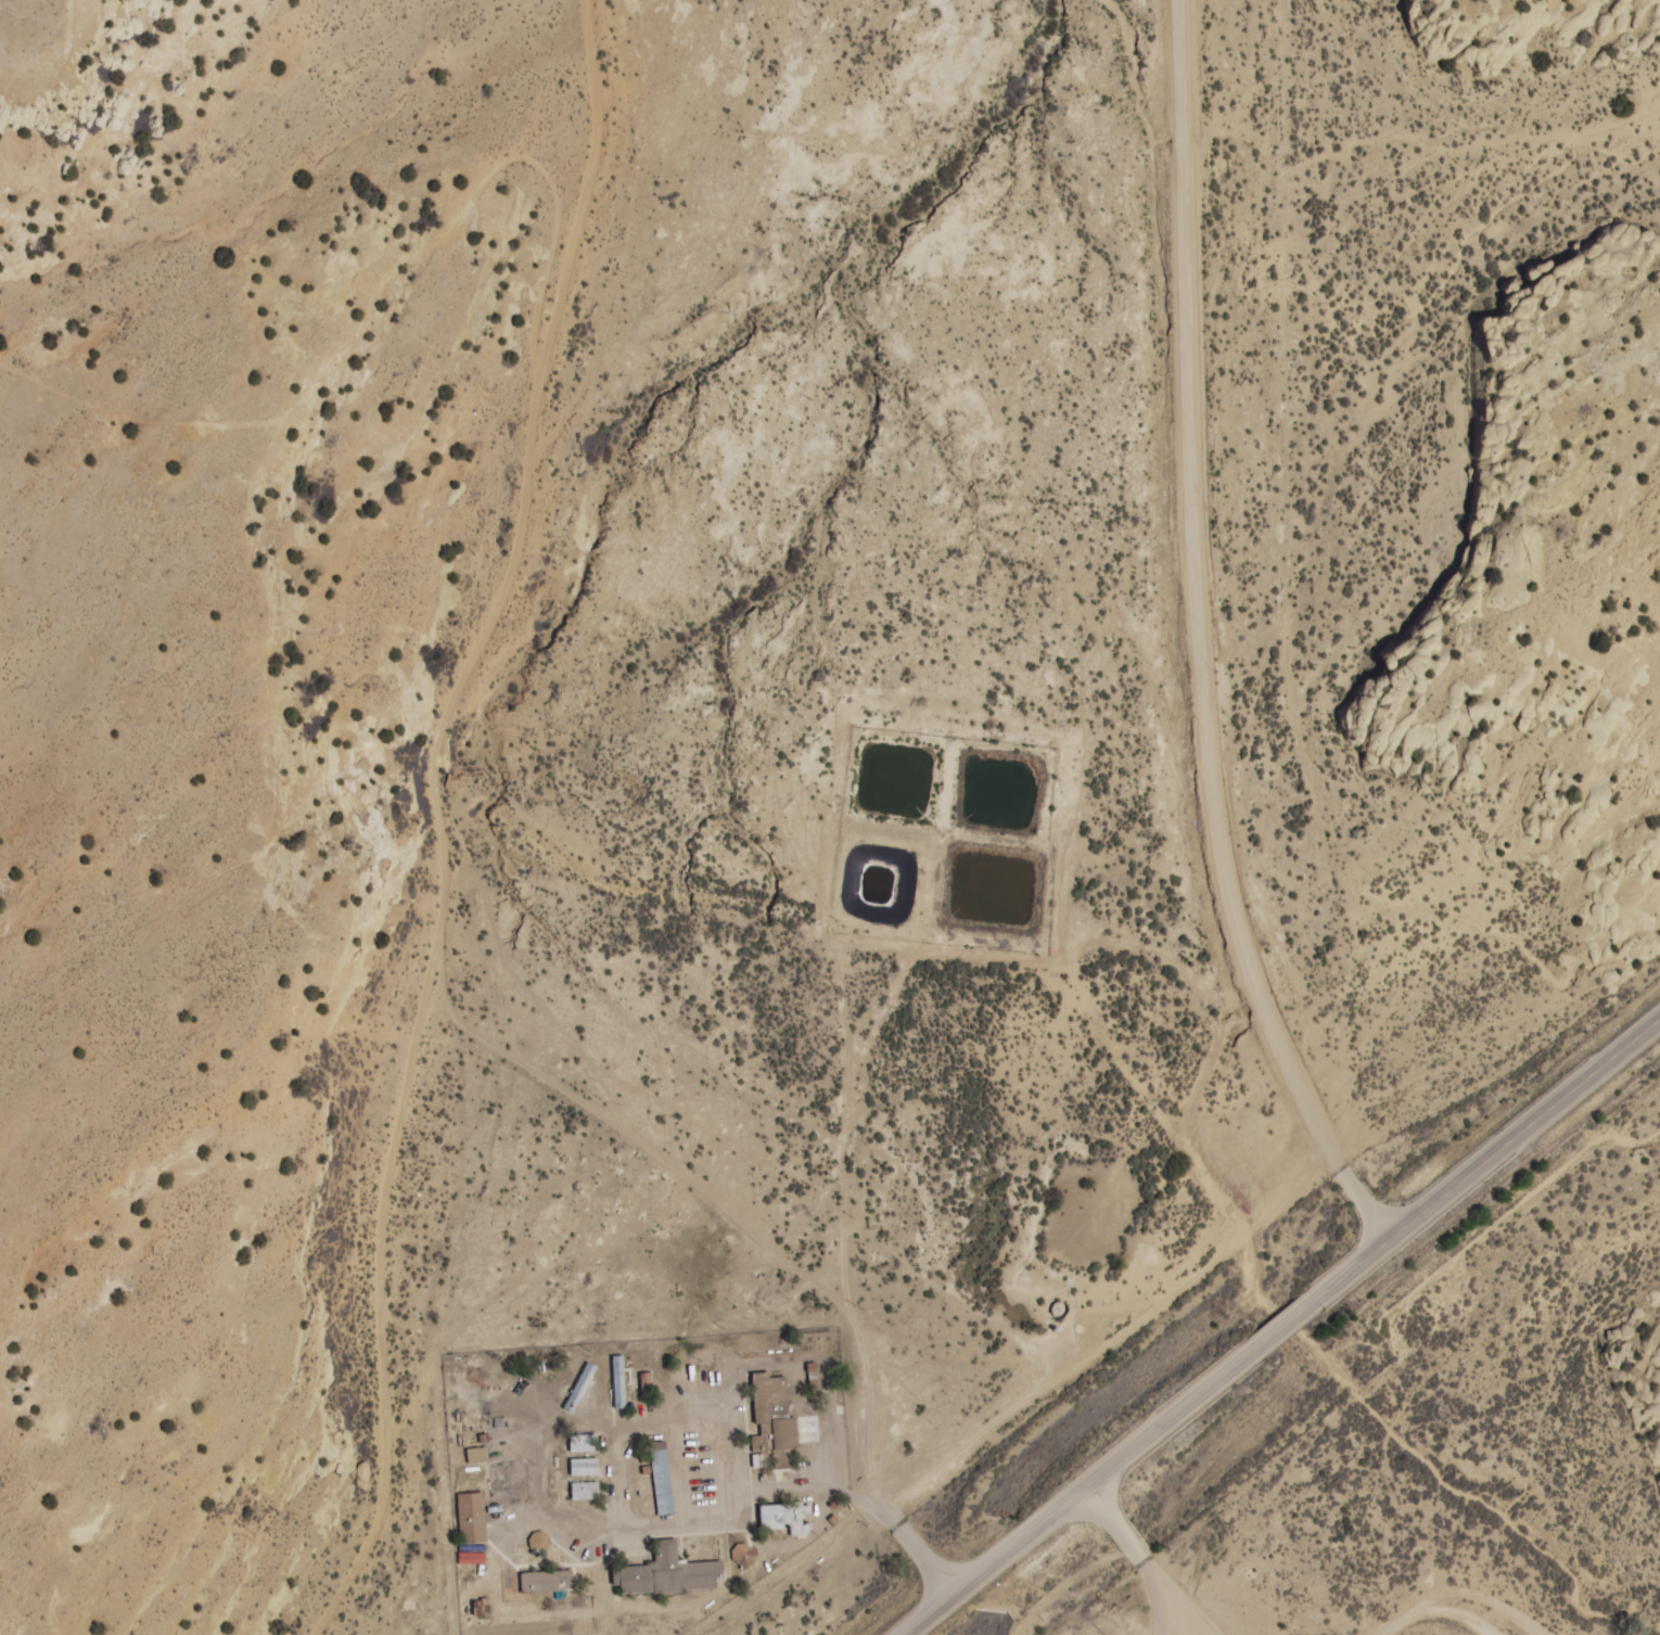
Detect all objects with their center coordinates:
road: (1189, 643)
wastewater plant: (894, 780)
wastewater plant: (999, 792)
road: (436, 821)
river: (489, 833)
wastewater plant: (879, 883)
wastewater plant: (991, 887)
road: (1478, 1163)
road: (726, 1212)
road: (1281, 1327)
building: (618, 1382)
building: (647, 1383)
building: (579, 1388)
building: (775, 1421)
building: (583, 1443)
building: (584, 1467)
building: (662, 1478)
road: (1084, 1487)
building: (584, 1489)
river: (1461, 1502)
building: (471, 1518)
building: (783, 1518)
road: (720, 1520)
building: (538, 1542)
building: (470, 1558)
road: (1139, 1558)
building: (668, 1574)
building: (546, 1582)
road: (1187, 1599)
road: (1436, 1612)

